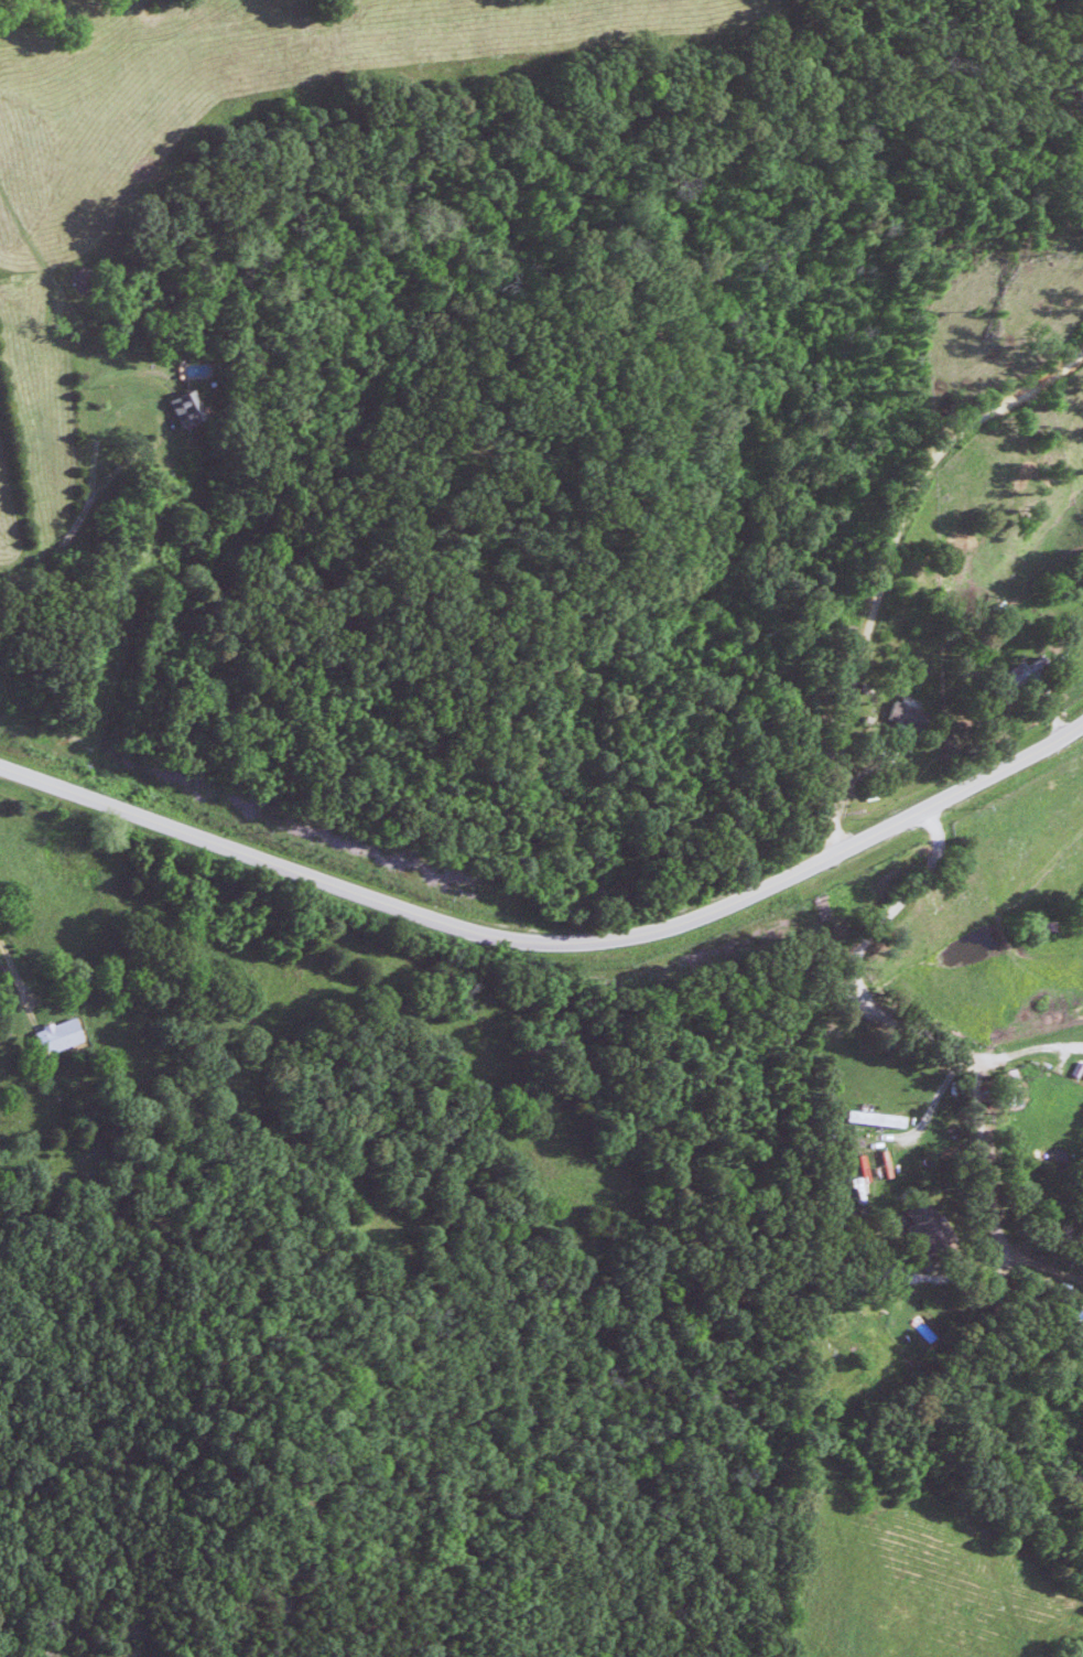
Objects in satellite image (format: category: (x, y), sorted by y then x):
building: (177, 407)
road: (881, 557)
building: (894, 712)
road: (552, 939)
road: (12, 982)
road: (906, 1027)
building: (51, 1035)
building: (1003, 1087)
building: (866, 1117)
building: (913, 1219)
building: (1068, 1311)
building: (1077, 1326)

